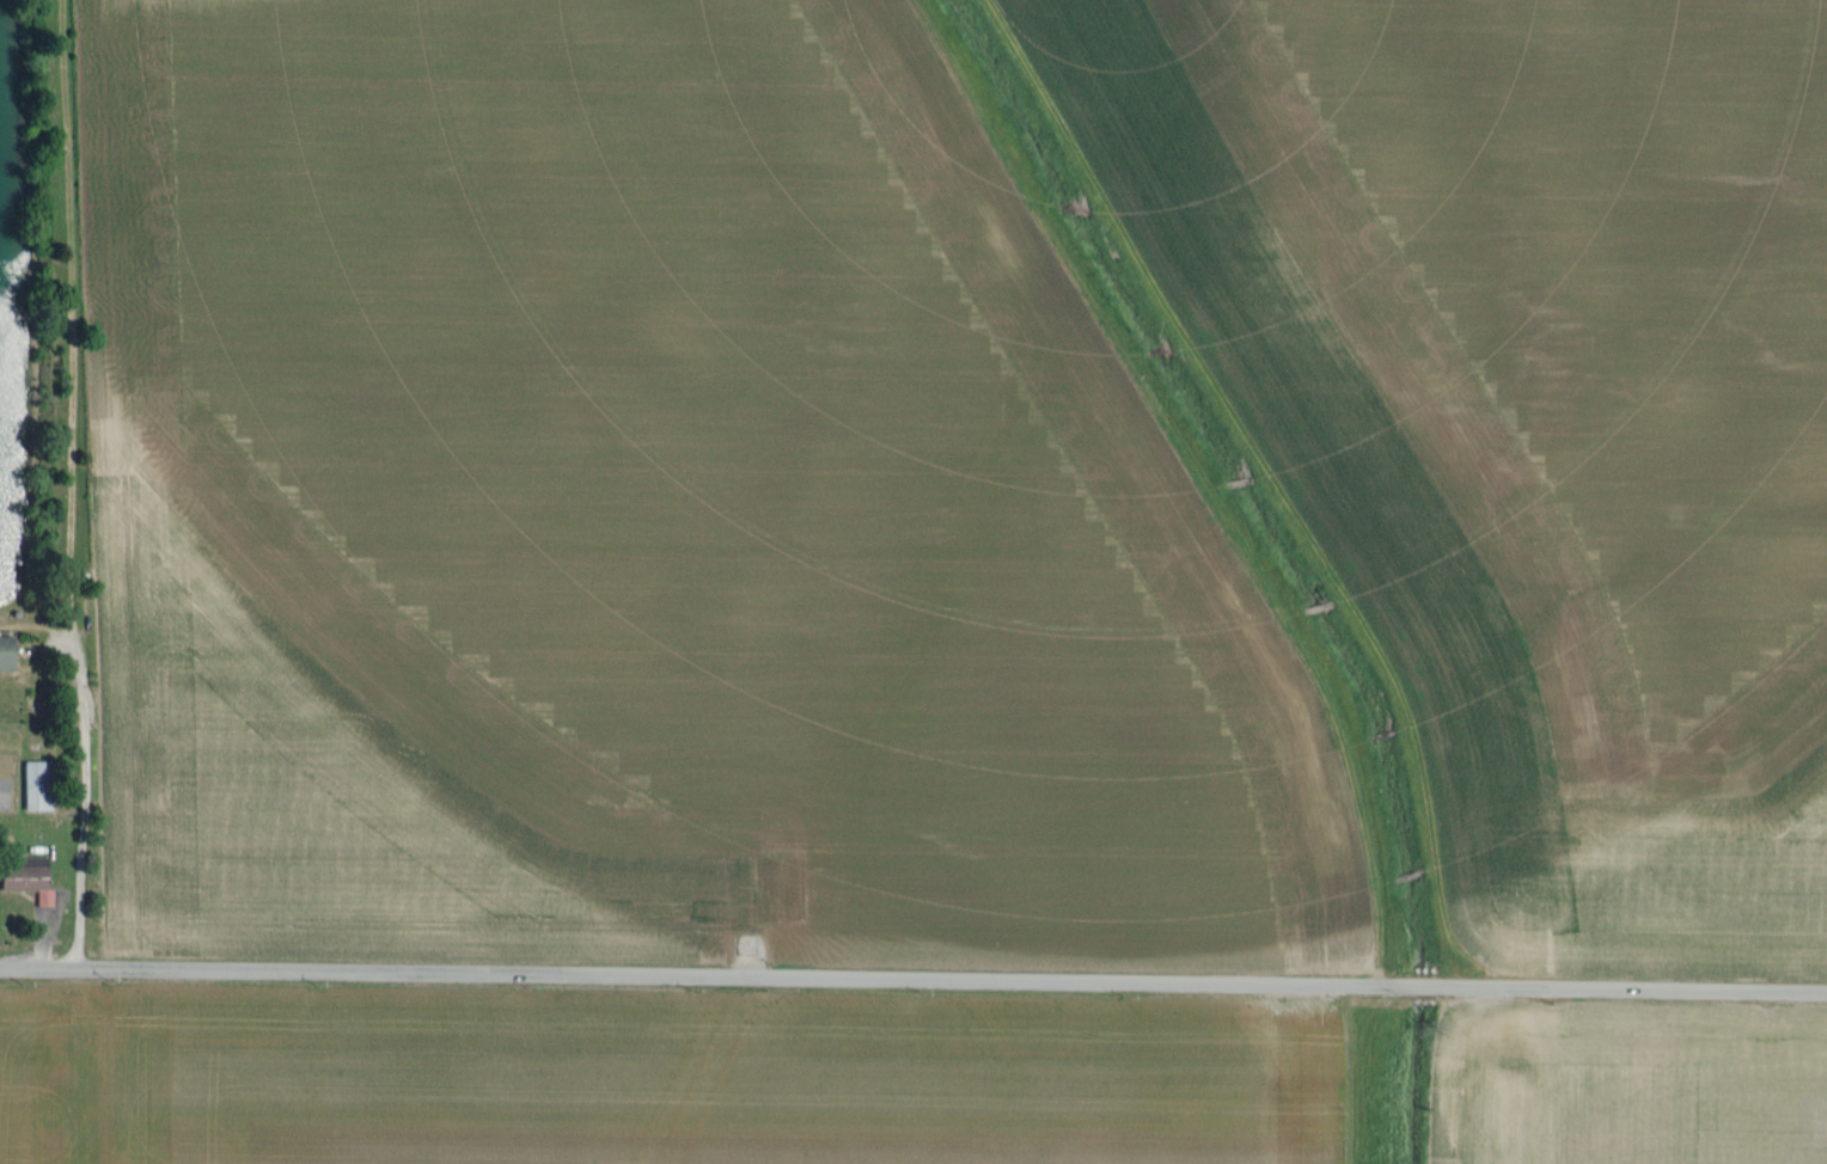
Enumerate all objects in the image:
building: (5, 654)
building: (36, 786)
road: (85, 803)
building: (25, 876)
road: (914, 980)

